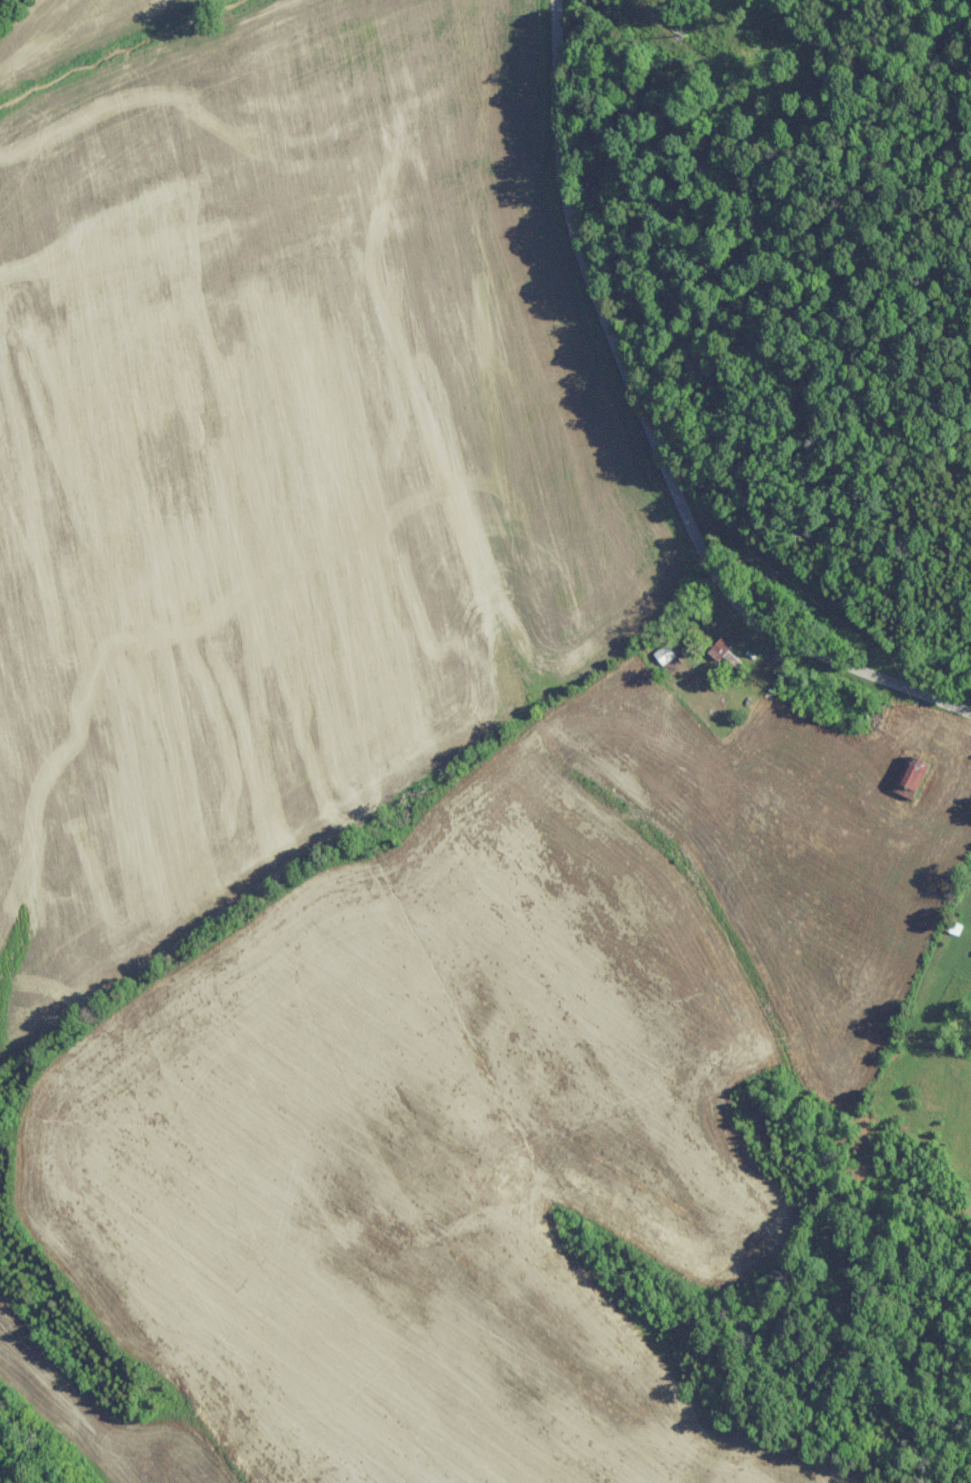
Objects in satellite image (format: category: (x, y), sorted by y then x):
road: (651, 433)
building: (718, 645)
building: (661, 654)
building: (904, 776)

